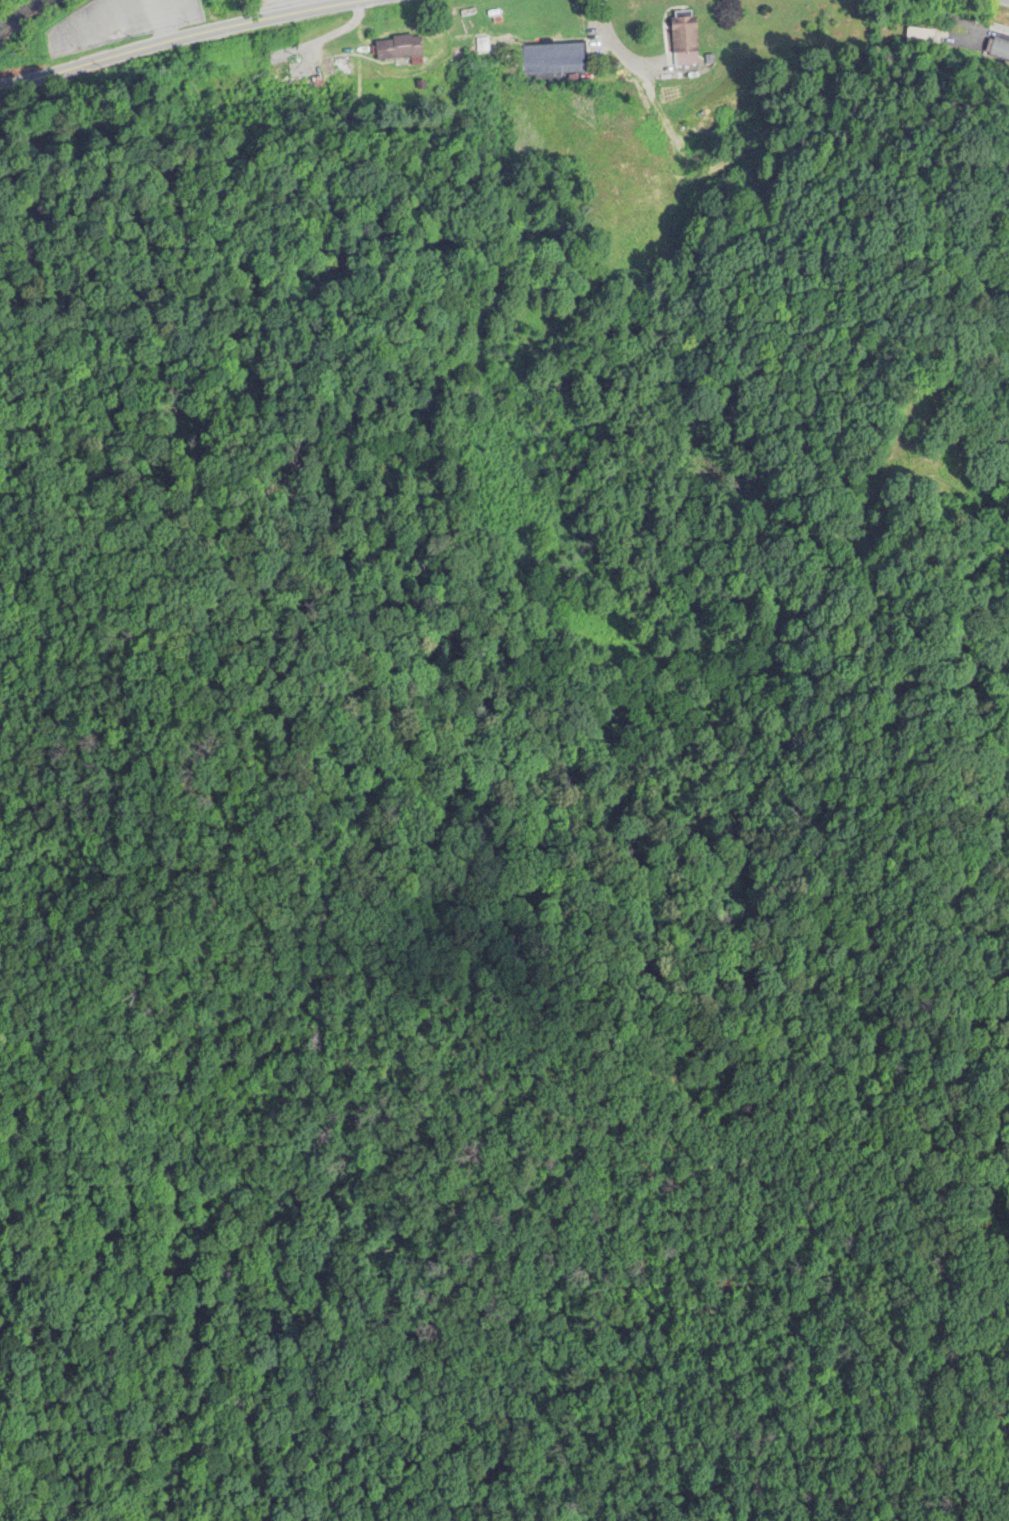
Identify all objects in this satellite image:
road: (996, 2)
river: (25, 18)
building: (924, 40)
road: (190, 42)
building: (684, 42)
building: (999, 51)
building: (553, 62)
building: (338, 68)

